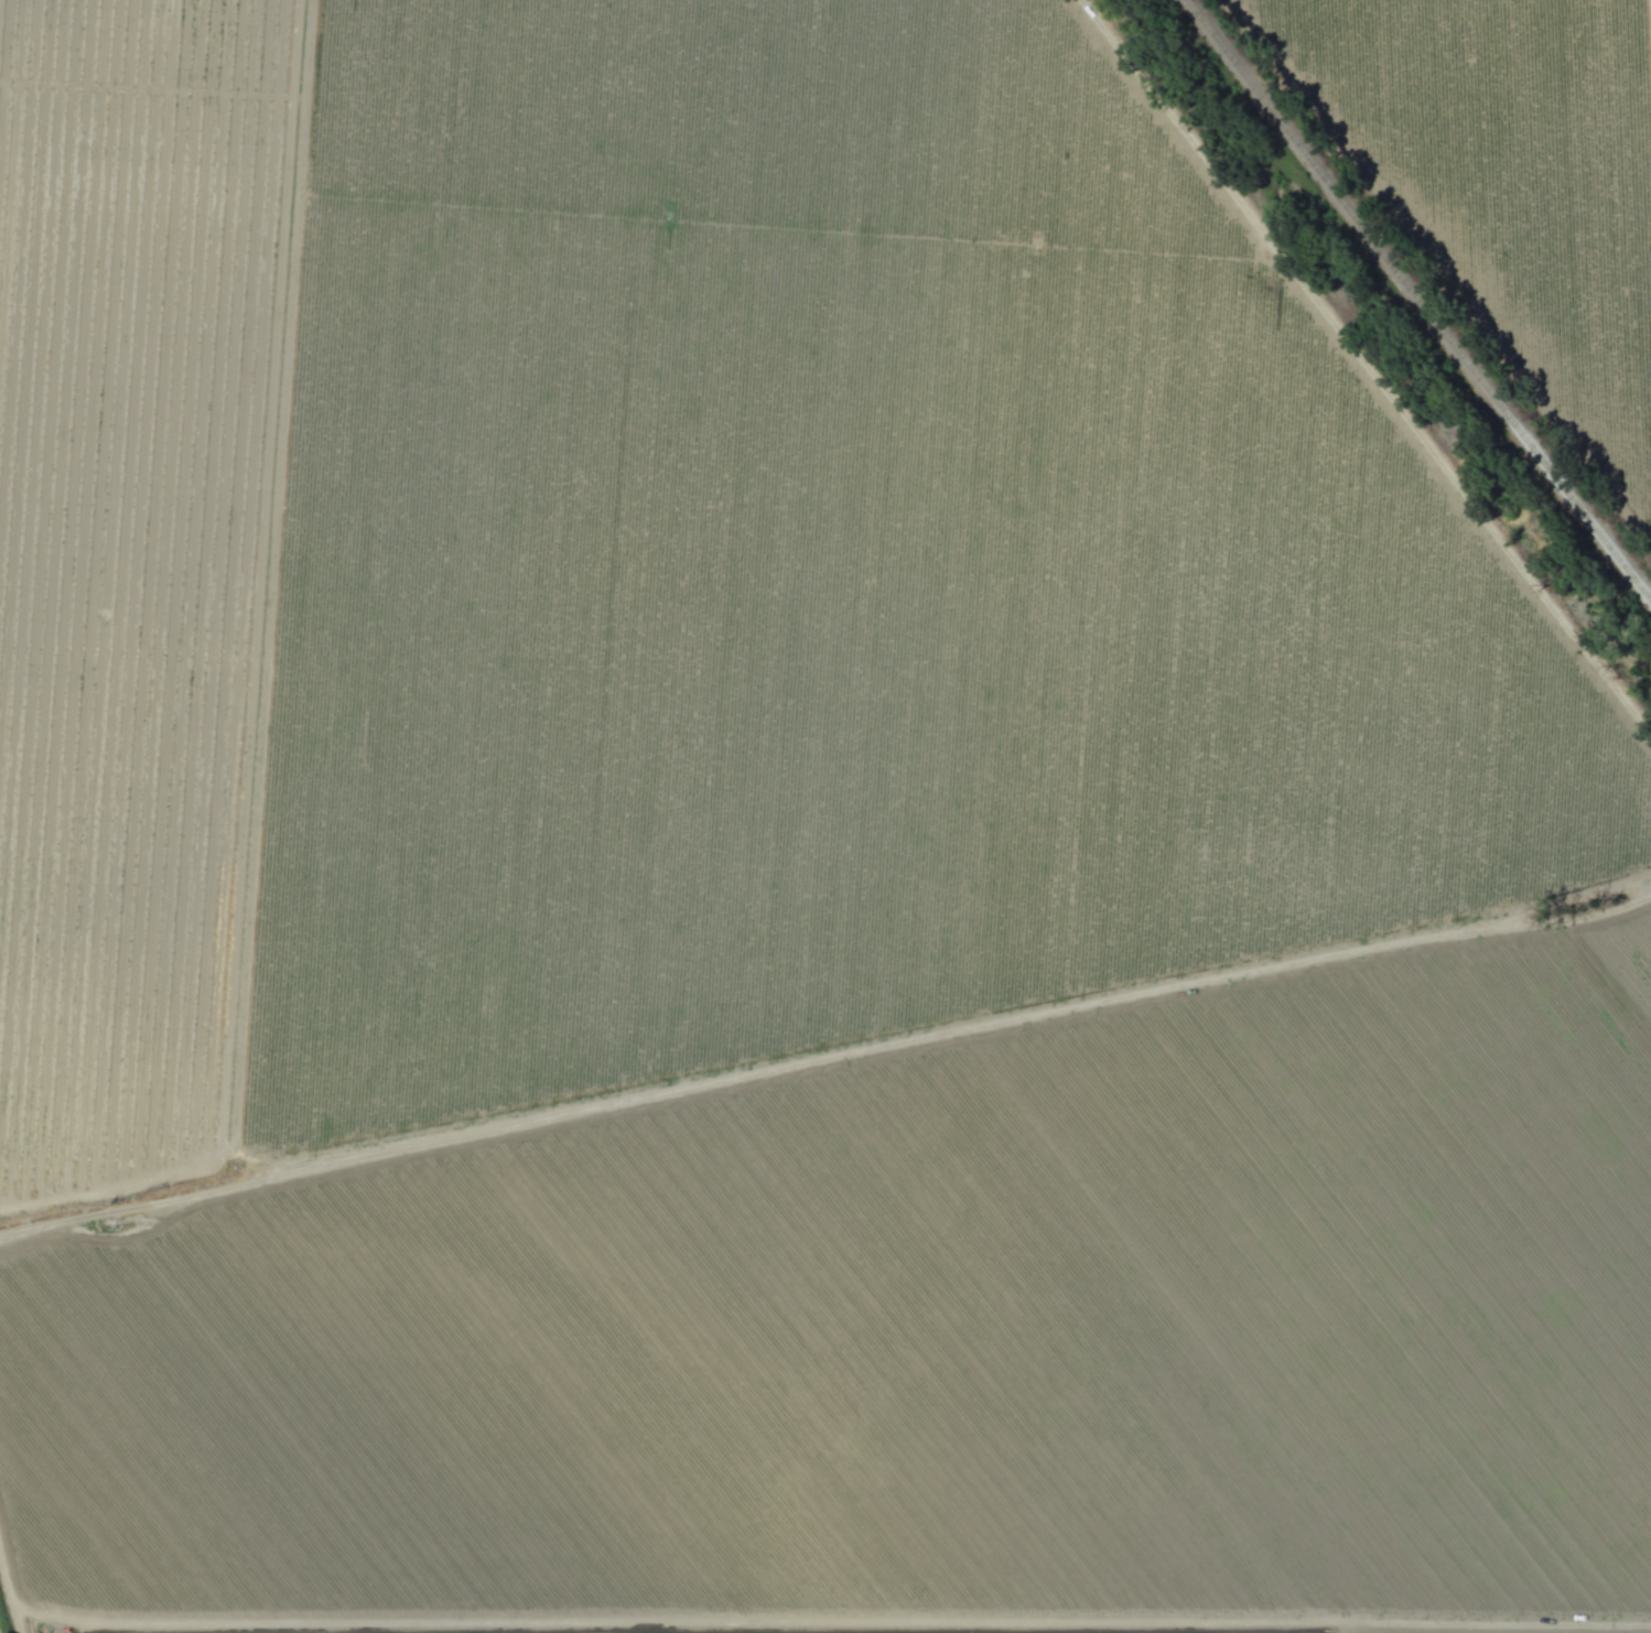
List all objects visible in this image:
road: (1105, 42)
railway: (1421, 295)
crop: (825, 816)

